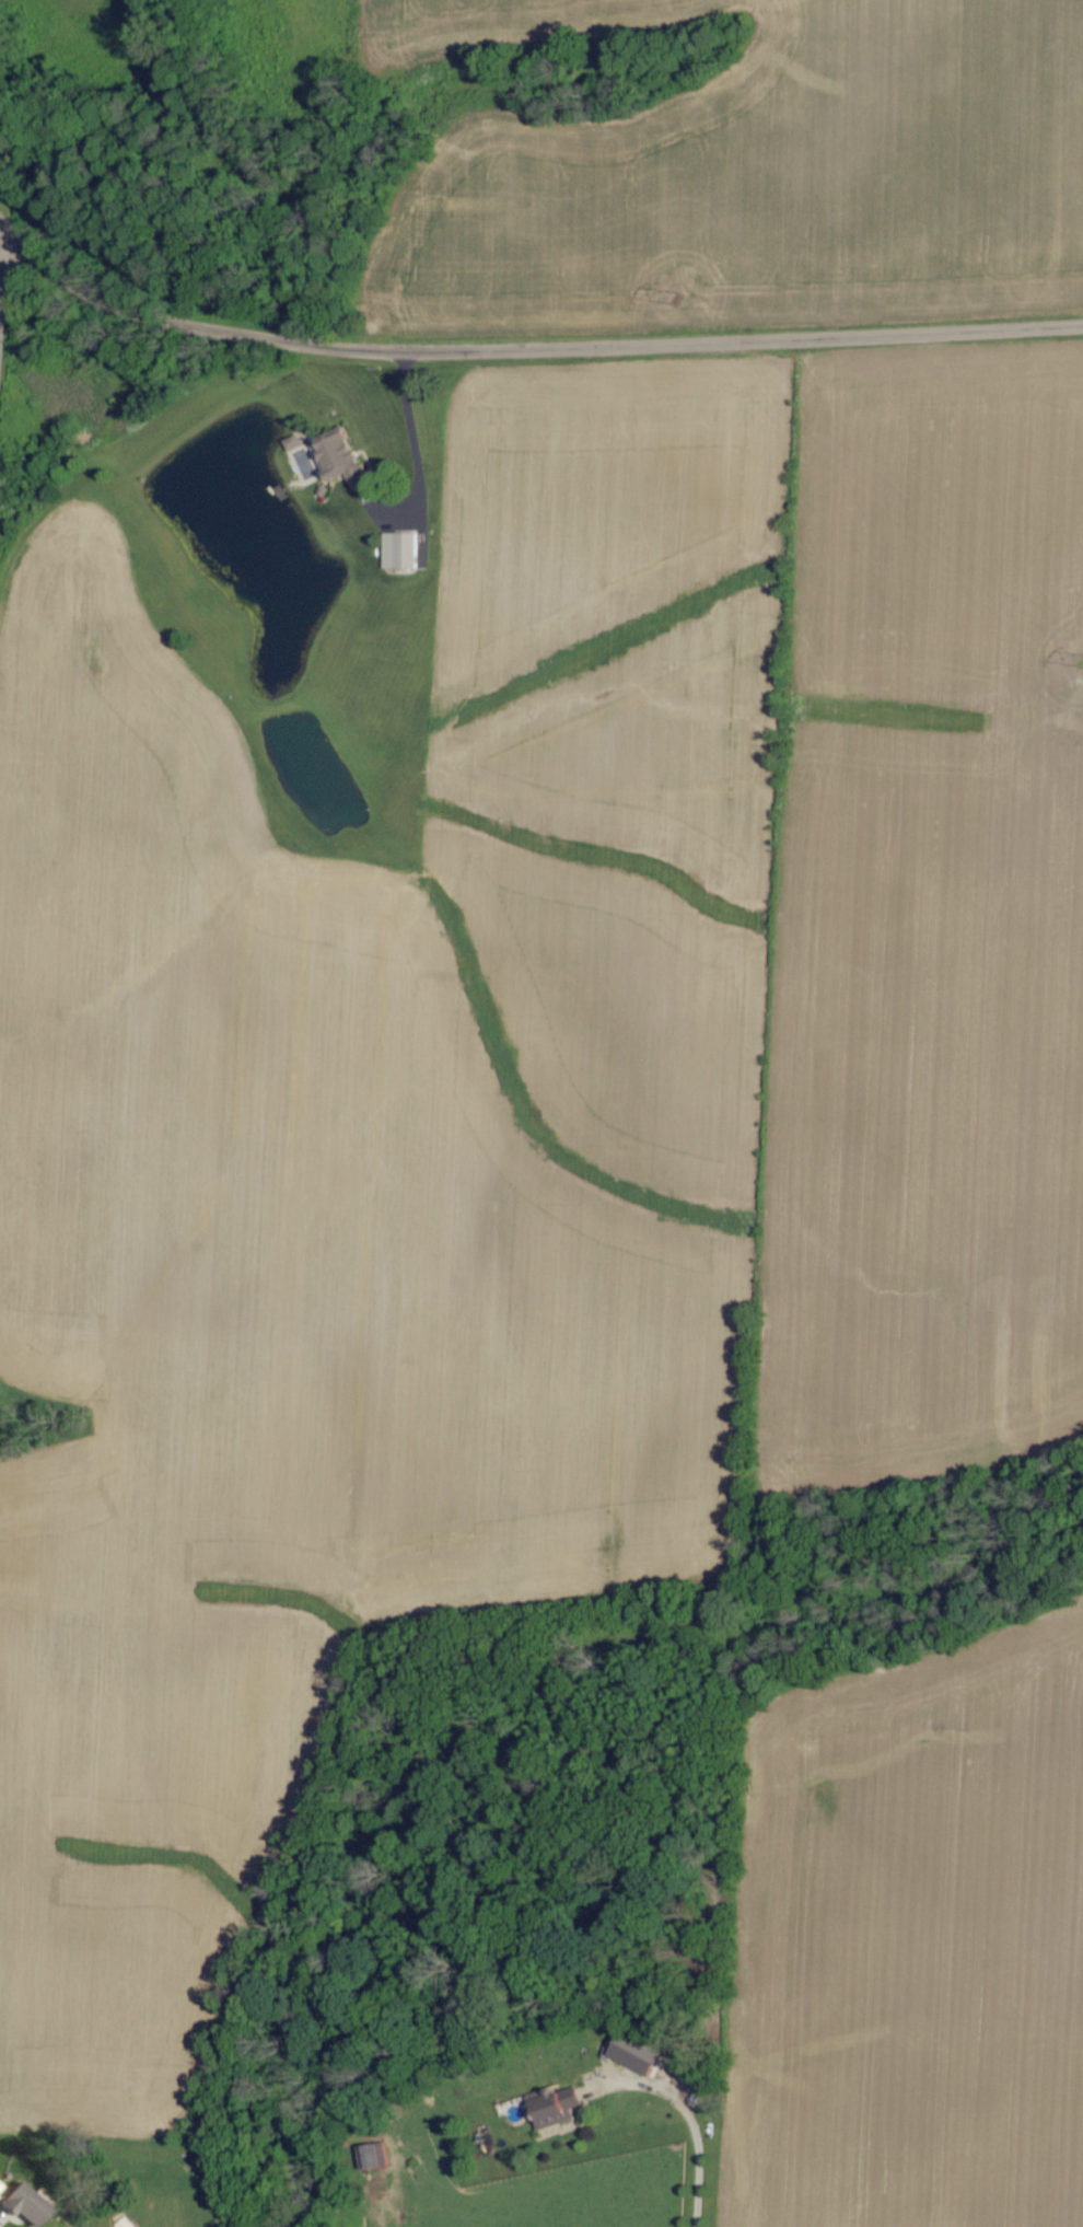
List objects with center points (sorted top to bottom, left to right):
road: (7, 251)
power tower: (674, 300)
road: (526, 348)
building: (345, 460)
building: (403, 550)
building: (639, 2054)
building: (559, 2109)
road: (694, 2127)
building: (1, 2188)
building: (28, 2205)

